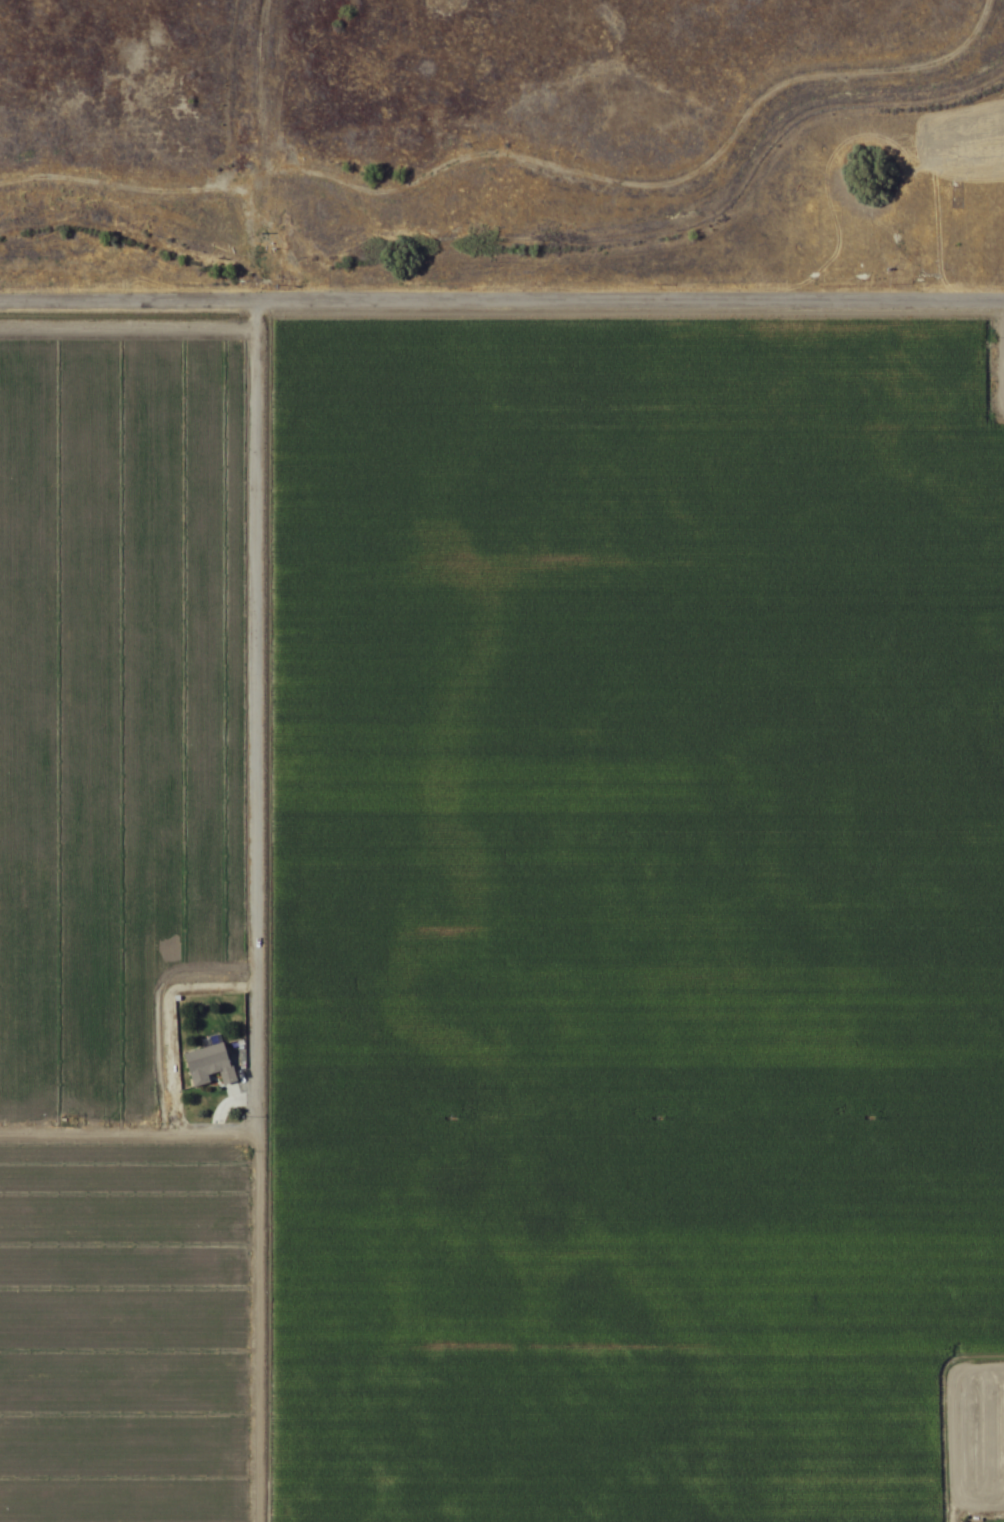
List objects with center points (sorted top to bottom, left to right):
road: (502, 298)
road: (255, 909)
building: (209, 1066)
road: (128, 1127)

